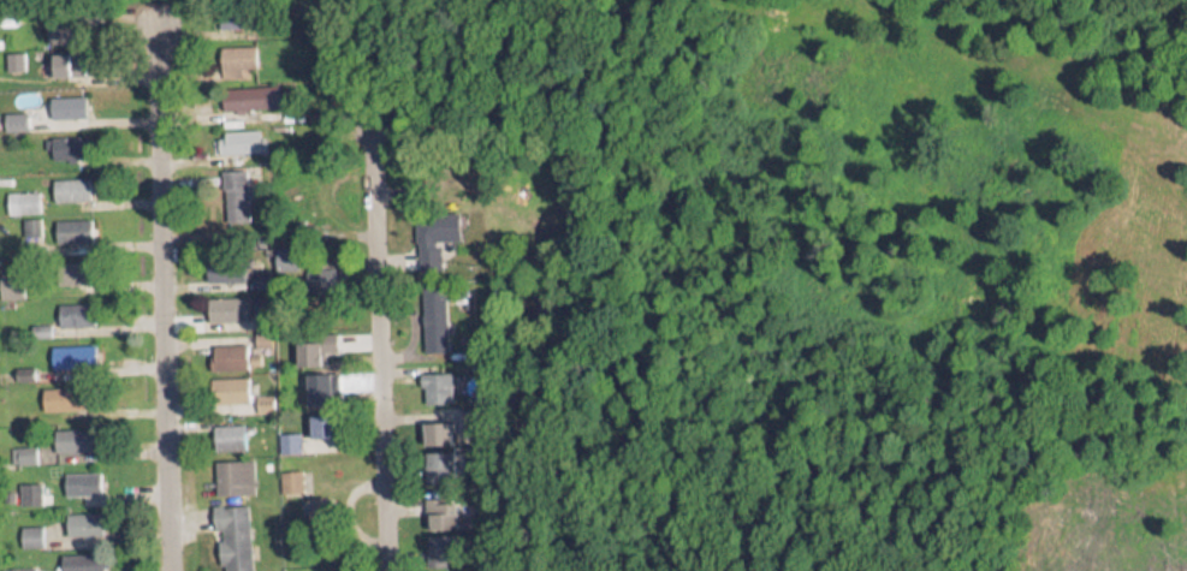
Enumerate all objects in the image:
building: (235, 53)
building: (64, 56)
building: (247, 88)
building: (65, 97)
road: (364, 120)
building: (241, 132)
building: (67, 139)
building: (71, 182)
building: (233, 186)
building: (26, 194)
building: (70, 227)
building: (76, 264)
road: (162, 285)
building: (226, 301)
building: (75, 305)
building: (311, 344)
building: (66, 347)
building: (227, 347)
road: (373, 358)
building: (432, 379)
building: (227, 381)
building: (64, 389)
building: (262, 394)
building: (435, 426)
building: (229, 429)
building: (73, 432)
building: (287, 434)
building: (433, 459)
building: (232, 468)
building: (290, 474)
building: (79, 475)
building: (437, 506)
building: (82, 515)
building: (231, 531)
building: (437, 542)
building: (79, 555)
building: (19, 565)
building: (453, 569)

